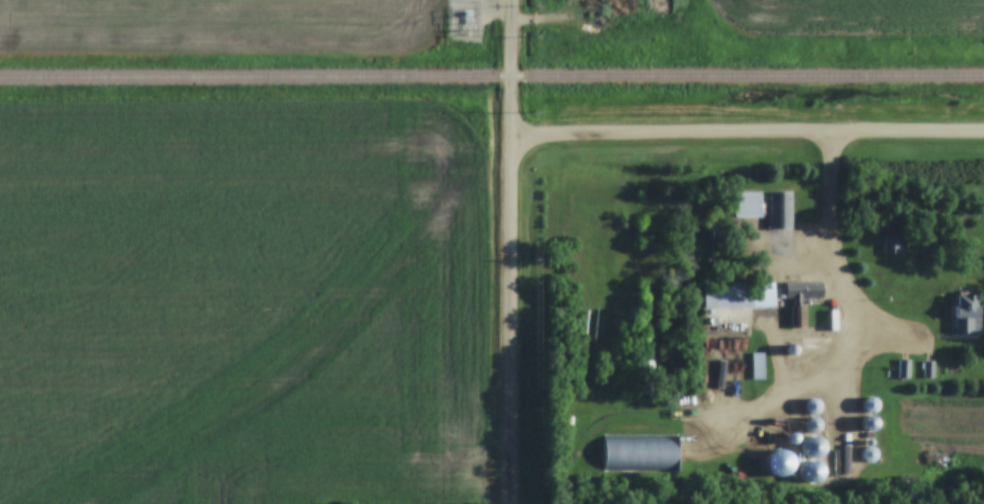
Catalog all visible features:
power substation: (463, 19)
railway: (492, 77)
road: (745, 130)
building: (748, 205)
building: (779, 210)
building: (719, 231)
building: (895, 245)
road: (509, 251)
road: (834, 291)
building: (739, 295)
building: (801, 300)
building: (968, 316)
building: (790, 350)
silo: (790, 350)
building: (794, 360)
silo: (794, 360)
building: (758, 366)
building: (794, 368)
silo: (794, 368)
building: (903, 369)
building: (928, 369)
building: (759, 389)
building: (868, 404)
silo: (868, 404)
building: (811, 406)
silo: (811, 406)
building: (868, 423)
silo: (868, 423)
building: (811, 425)
silo: (811, 425)
building: (791, 439)
silo: (791, 439)
building: (812, 447)
silo: (812, 447)
building: (640, 452)
building: (867, 453)
silo: (867, 453)
building: (811, 472)
silo: (811, 472)

